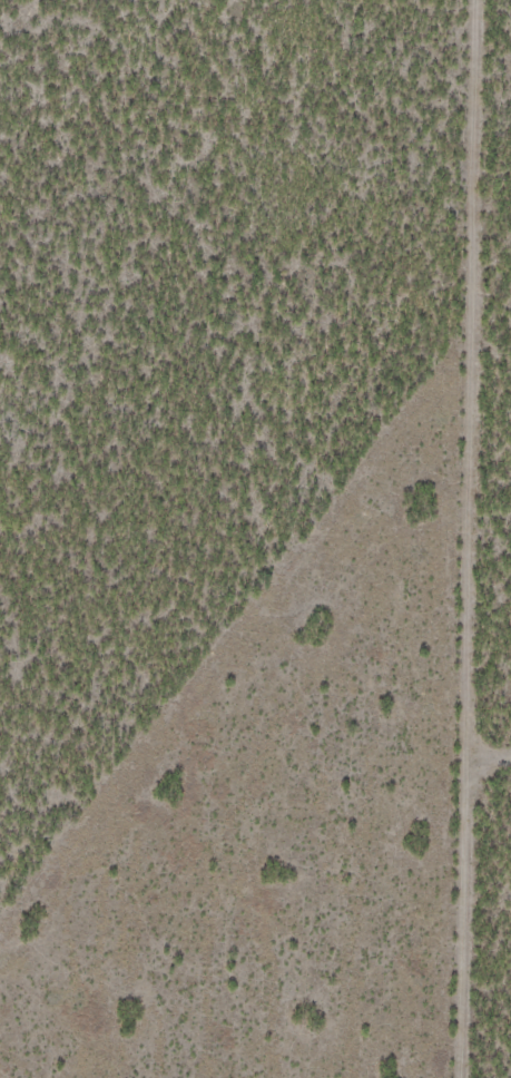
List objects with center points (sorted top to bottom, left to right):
road: (255, 841)

